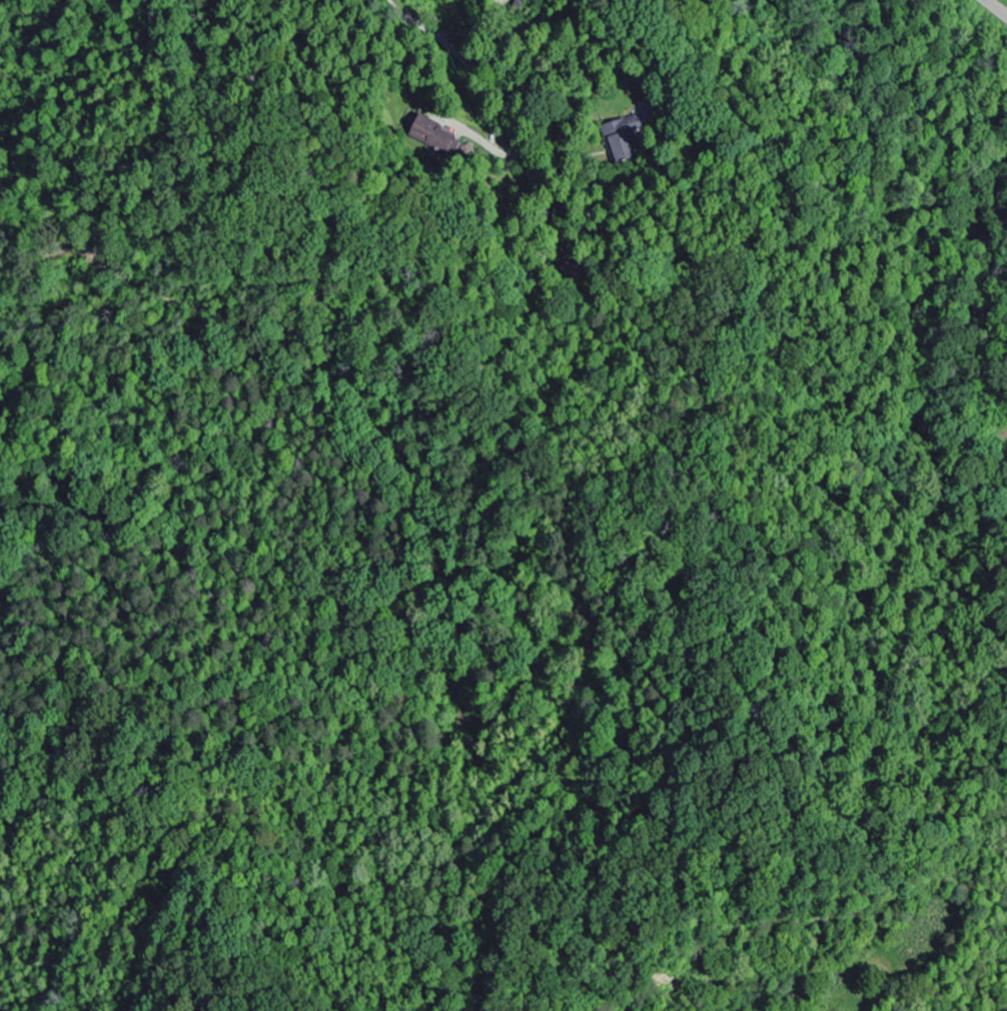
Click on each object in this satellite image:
road: (997, 7)
road: (470, 69)
building: (430, 134)
building: (619, 143)

